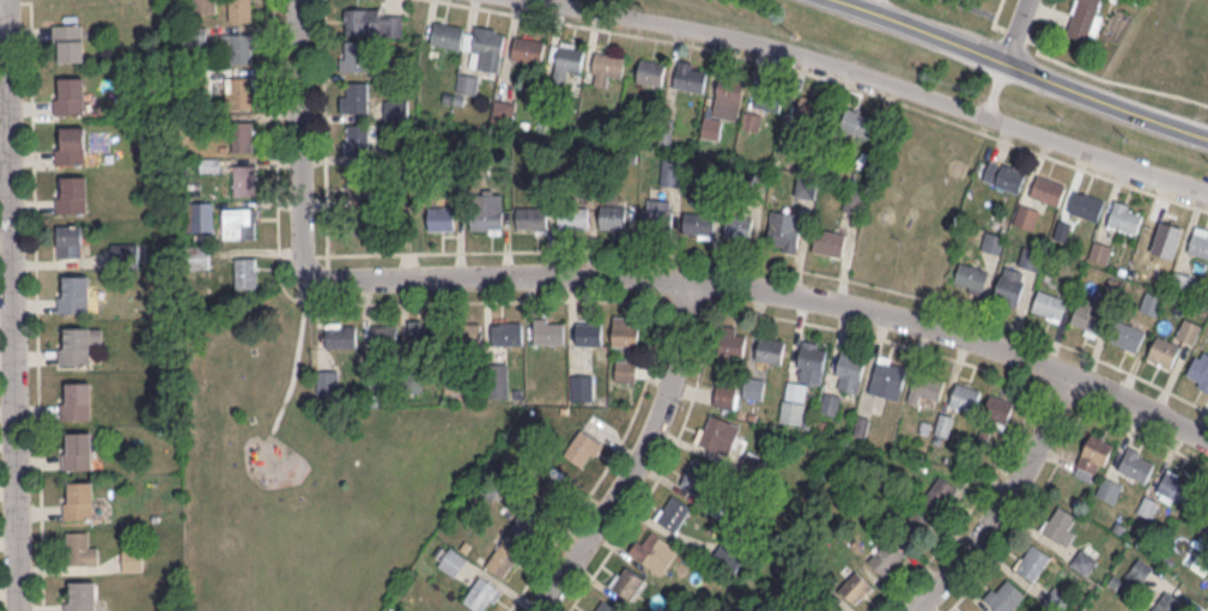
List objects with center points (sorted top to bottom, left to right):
road: (10, 0)
road: (882, 6)
road: (998, 7)
building: (241, 10)
road: (983, 11)
building: (1083, 19)
building: (374, 22)
road: (1018, 30)
road: (1015, 32)
road: (1032, 40)
building: (69, 42)
building: (472, 42)
building: (239, 47)
building: (527, 49)
building: (354, 55)
building: (566, 60)
building: (607, 66)
road: (1025, 67)
building: (651, 71)
road: (1093, 74)
building: (691, 75)
road: (880, 75)
road: (831, 78)
building: (468, 83)
road: (997, 86)
building: (239, 91)
building: (69, 96)
building: (356, 96)
building: (770, 96)
building: (728, 99)
building: (395, 109)
building: (503, 110)
building: (806, 110)
building: (858, 122)
building: (712, 127)
building: (243, 135)
road: (324, 138)
building: (362, 138)
building: (71, 146)
building: (669, 171)
building: (1010, 177)
building: (362, 182)
building: (247, 184)
building: (1048, 189)
building: (72, 195)
park: (917, 202)
building: (1086, 204)
building: (855, 206)
building: (486, 210)
building: (658, 211)
building: (613, 216)
building: (1026, 216)
building: (196, 217)
building: (441, 217)
building: (532, 217)
building: (1125, 217)
building: (573, 218)
building: (239, 223)
building: (359, 224)
building: (698, 224)
building: (737, 226)
building: (783, 230)
building: (68, 240)
building: (828, 242)
building: (992, 242)
building: (1200, 242)
road: (424, 252)
building: (1100, 252)
building: (1030, 258)
building: (245, 272)
building: (971, 277)
road: (636, 279)
building: (1183, 282)
building: (1010, 284)
road: (885, 286)
building: (74, 295)
road: (35, 301)
building: (1152, 302)
road: (14, 304)
road: (351, 304)
building: (1049, 304)
building: (1088, 315)
building: (548, 329)
building: (420, 331)
building: (466, 331)
building: (625, 331)
building: (1189, 331)
building: (506, 332)
building: (589, 333)
building: (340, 334)
building: (383, 335)
building: (1128, 335)
road: (886, 339)
building: (733, 340)
building: (75, 347)
building: (770, 349)
building: (1164, 350)
building: (625, 369)
building: (1200, 369)
road: (293, 370)
building: (849, 371)
building: (887, 377)
building: (803, 380)
building: (326, 381)
building: (413, 382)
building: (581, 386)
building: (753, 387)
building: (927, 388)
building: (726, 395)
building: (965, 397)
building: (77, 399)
building: (830, 403)
building: (997, 410)
building: (943, 424)
building: (717, 432)
road: (1140, 432)
building: (582, 448)
building: (78, 449)
road: (639, 455)
building: (1093, 458)
building: (1136, 464)
road: (661, 470)
park: (308, 471)
building: (694, 476)
building: (1174, 488)
building: (1109, 489)
building: (547, 492)
road: (587, 495)
building: (79, 498)
road: (1008, 500)
building: (933, 503)
road: (970, 507)
road: (1025, 508)
building: (673, 512)
building: (1061, 524)
building: (524, 526)
building: (79, 548)
building: (654, 550)
building: (885, 555)
building: (728, 557)
building: (1086, 557)
building: (132, 558)
building: (502, 558)
building: (451, 562)
building: (1032, 562)
building: (1139, 571)
building: (626, 581)
building: (856, 585)
building: (479, 593)
building: (81, 594)
building: (1006, 595)
building: (1056, 599)
building: (1167, 603)
building: (606, 606)
building: (831, 606)
road: (1206, 609)
building: (451, 610)
building: (454, 610)

